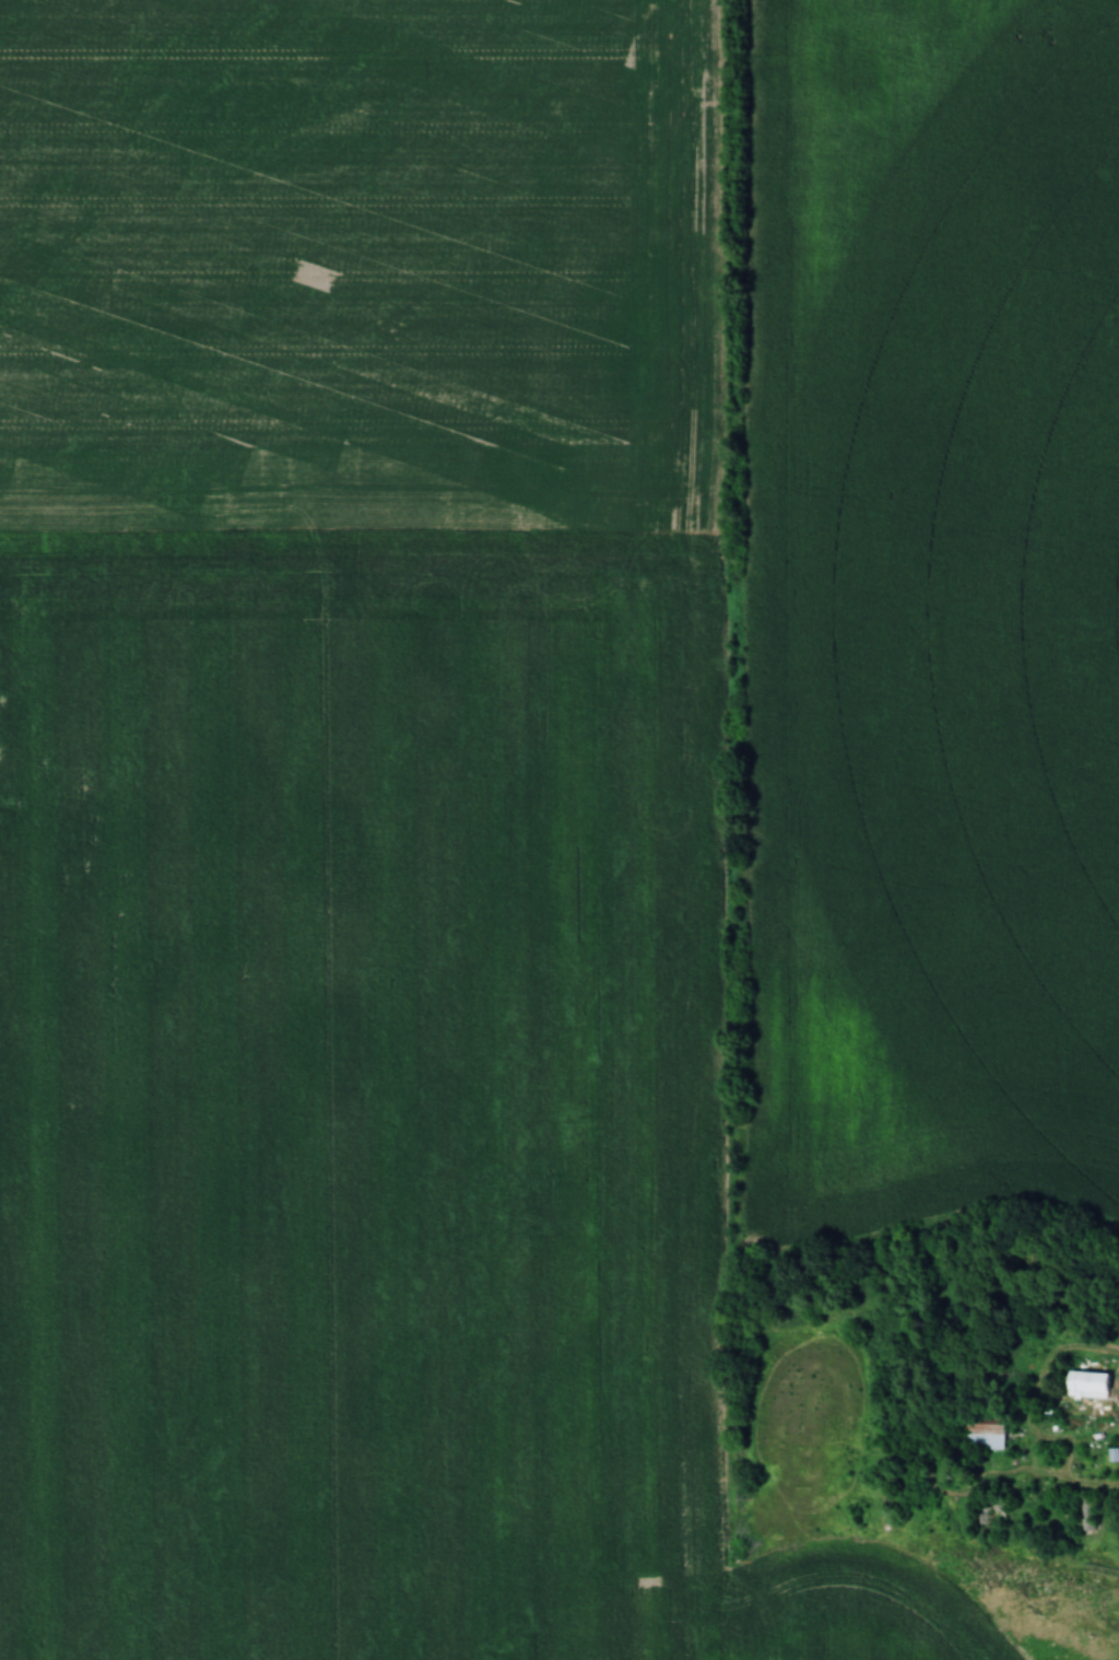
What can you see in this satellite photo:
building: (1089, 1384)
building: (986, 1433)
building: (1087, 1513)

